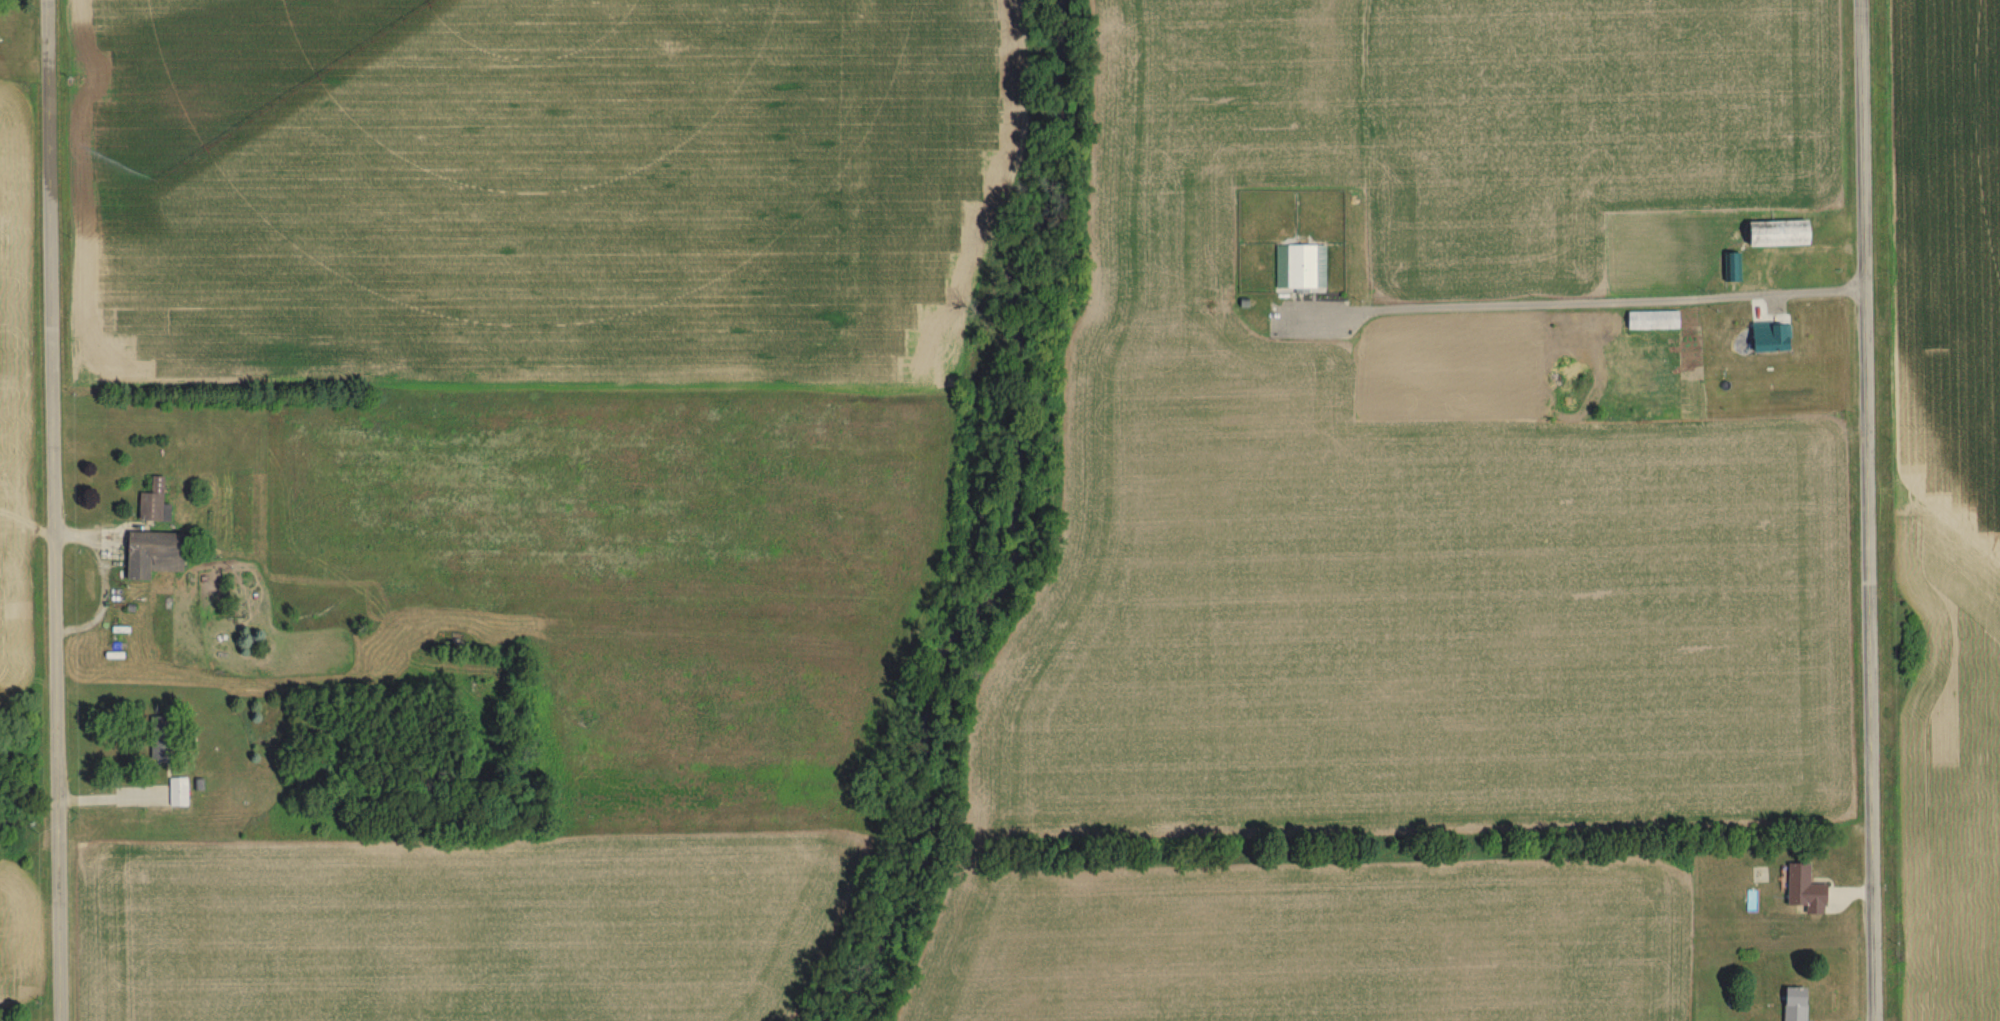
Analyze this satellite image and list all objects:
building: (1775, 234)
building: (1730, 268)
building: (1299, 269)
road: (1463, 304)
building: (1649, 321)
building: (1769, 339)
building: (151, 504)
road: (51, 510)
road: (1869, 510)
building: (150, 556)
building: (156, 742)
building: (175, 794)
road: (107, 797)
building: (1802, 892)
building: (1792, 1004)

